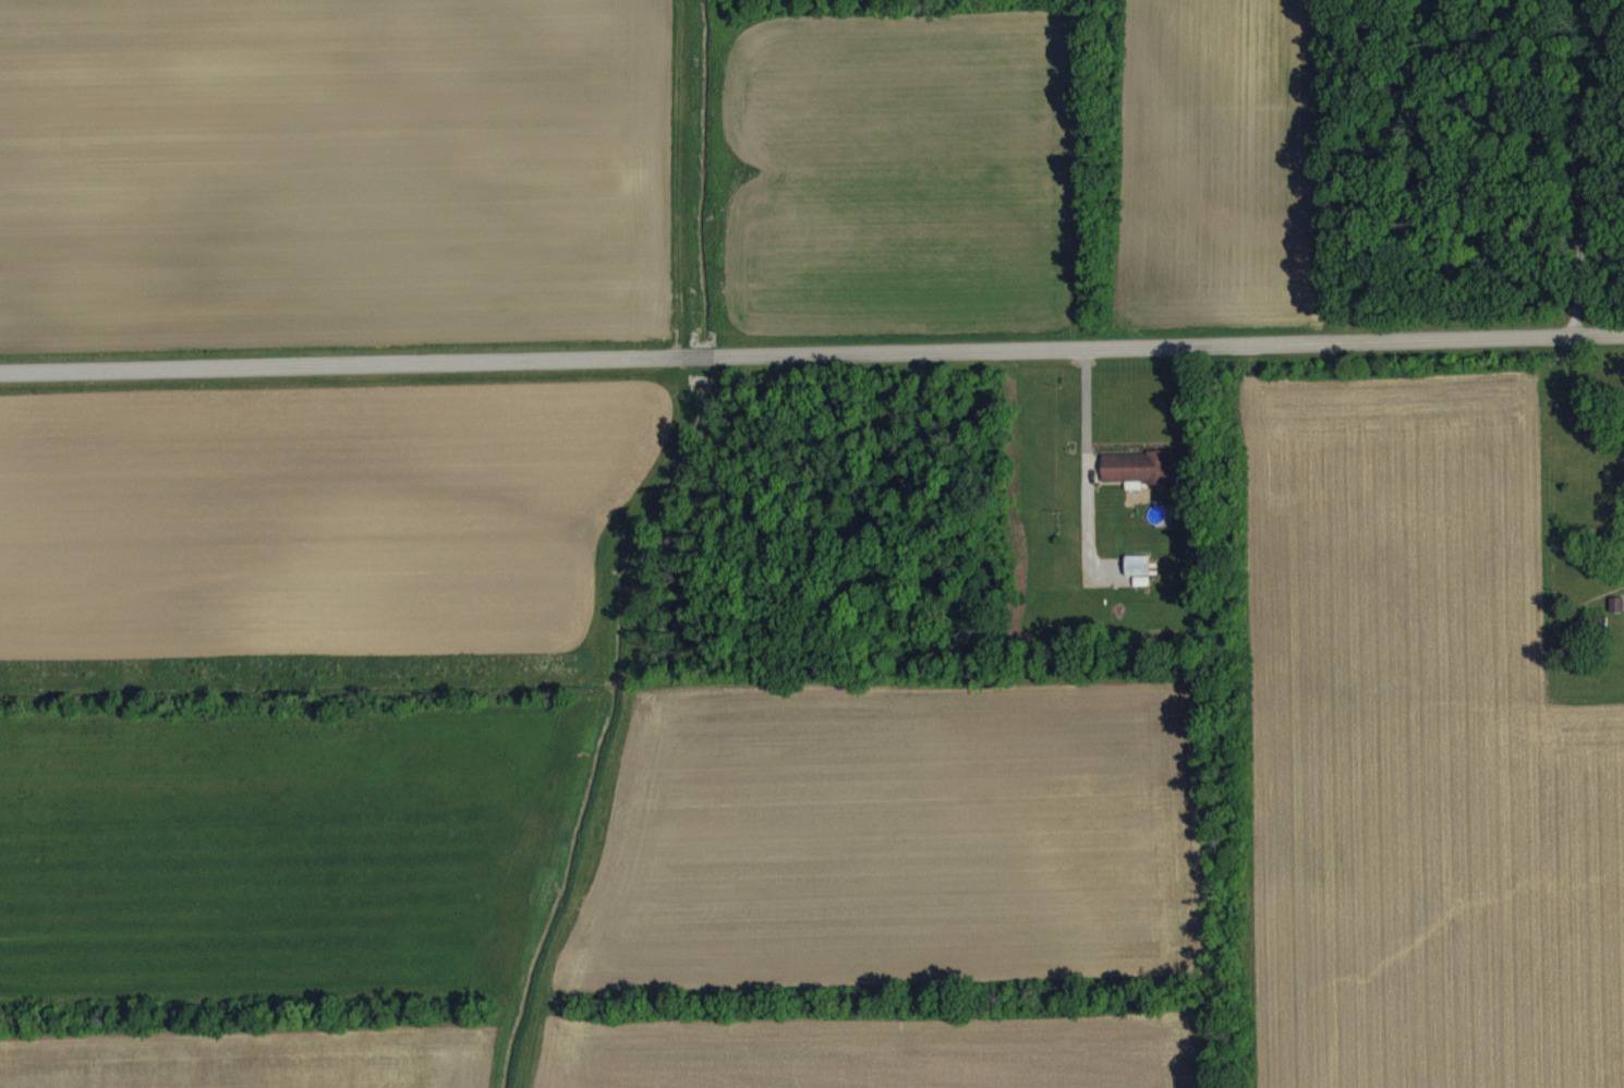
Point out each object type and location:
road: (1588, 168)
road: (812, 356)
road: (1083, 420)
building: (1135, 480)
building: (1137, 581)

